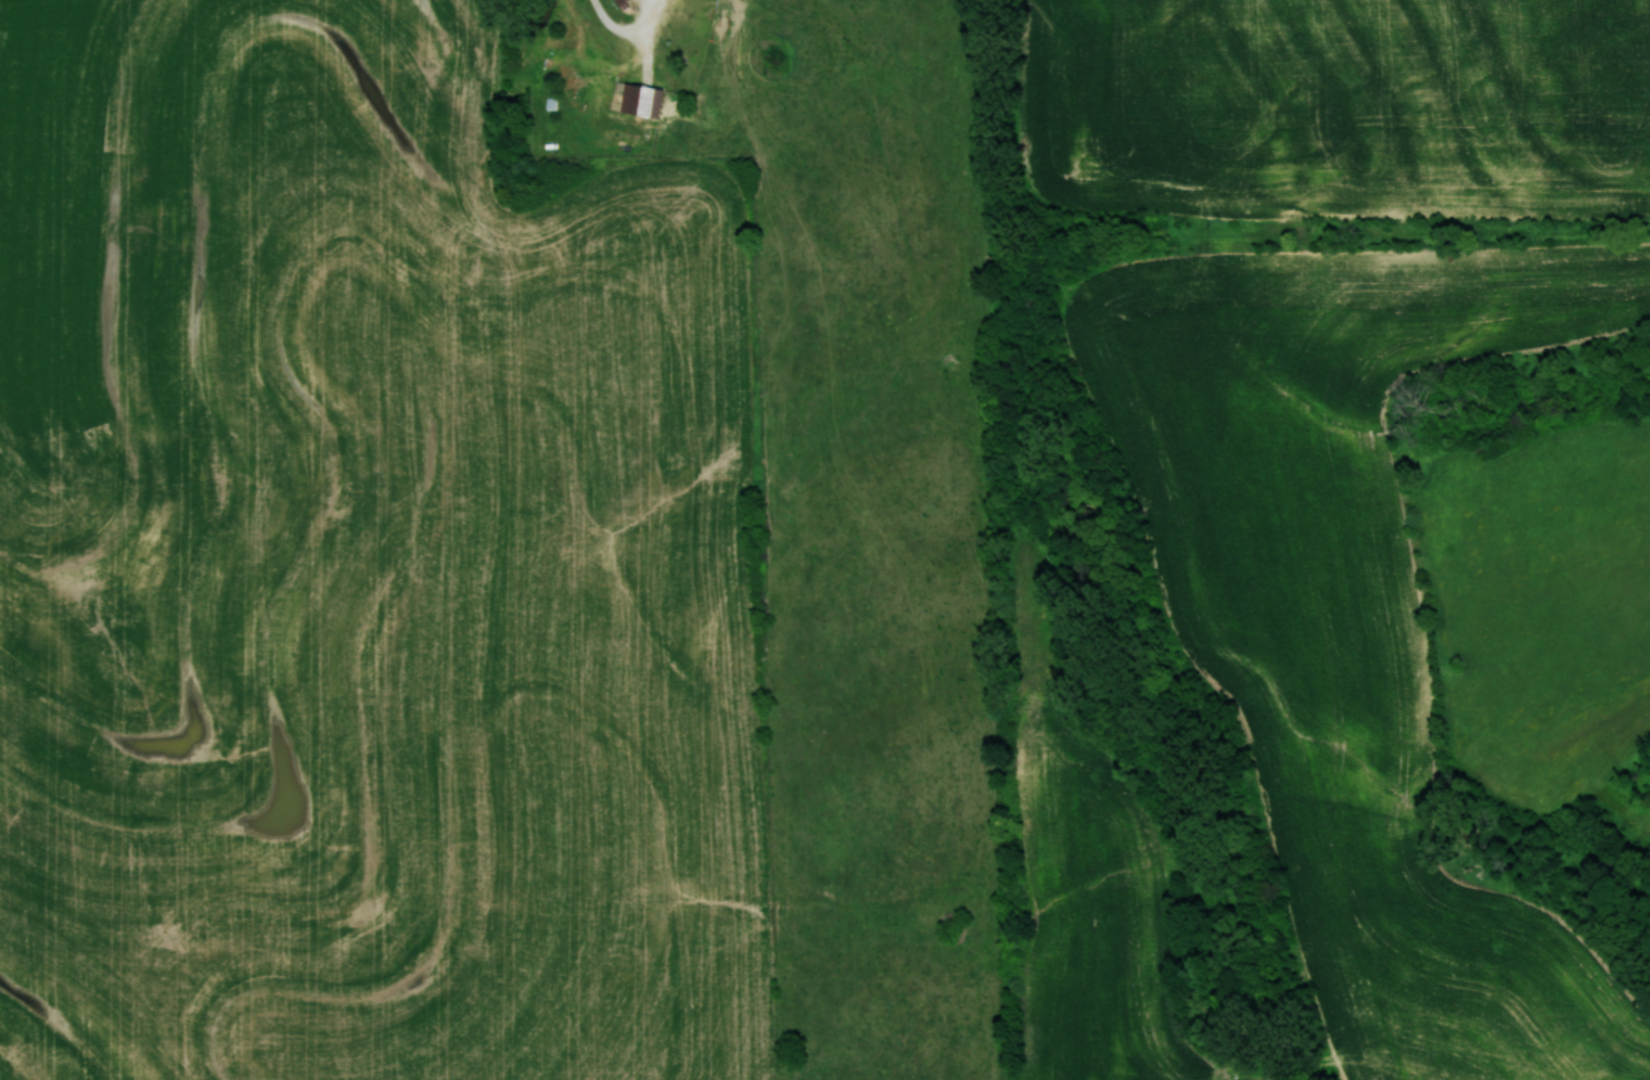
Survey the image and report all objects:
building: (644, 101)

